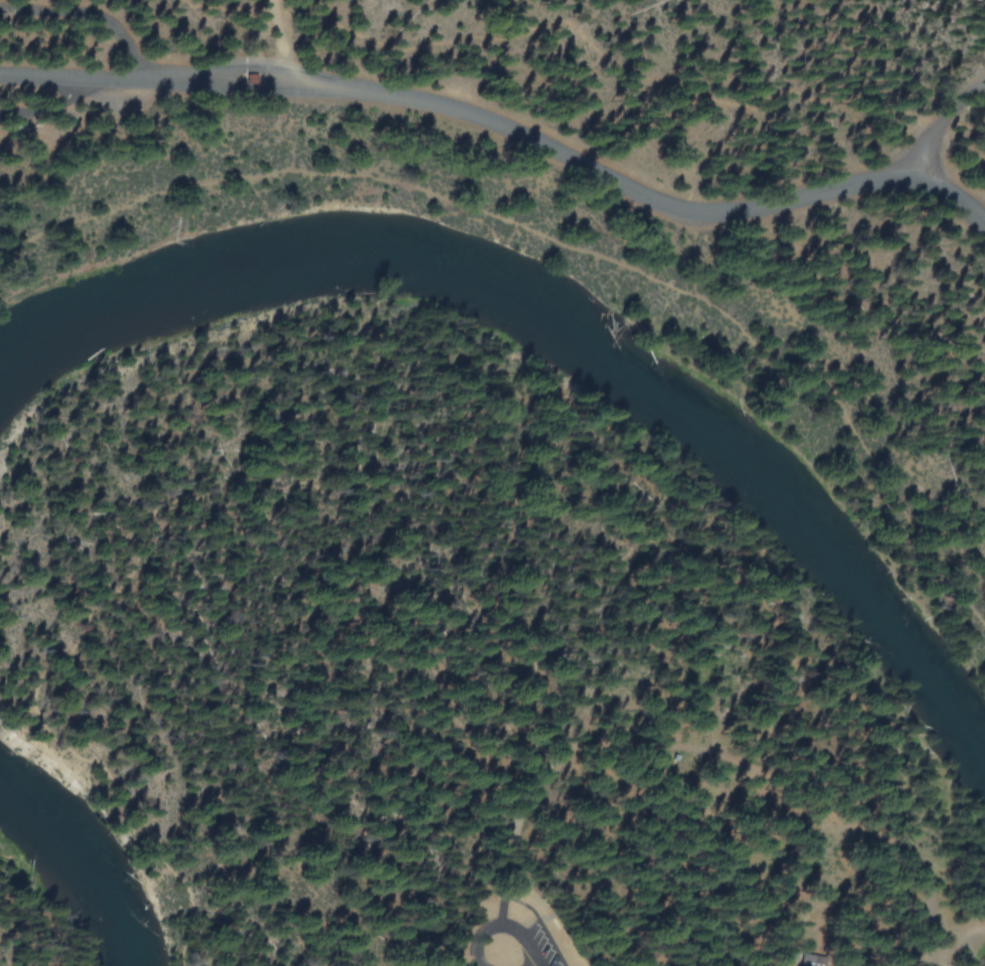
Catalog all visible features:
road: (87, 12)
road: (930, 27)
road: (274, 41)
road: (125, 73)
toll booth: (251, 80)
road: (76, 110)
road: (943, 117)
road: (624, 184)
road: (553, 241)
river: (563, 330)
road: (349, 604)
road: (707, 786)
river: (78, 867)
road: (504, 907)
parking lot: (507, 929)
road: (465, 959)
building: (812, 963)

